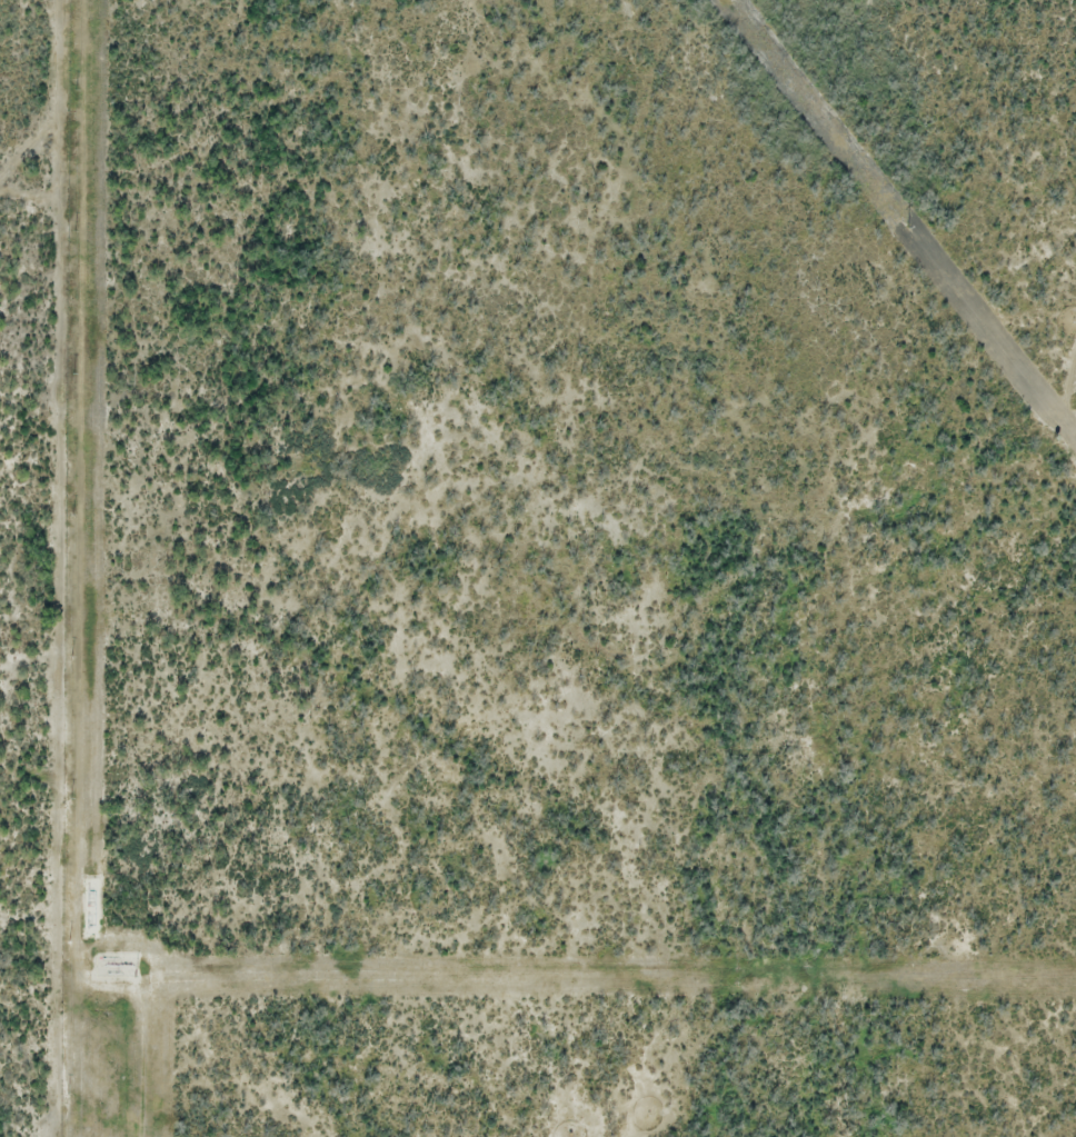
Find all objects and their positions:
power tower: (908, 227)

